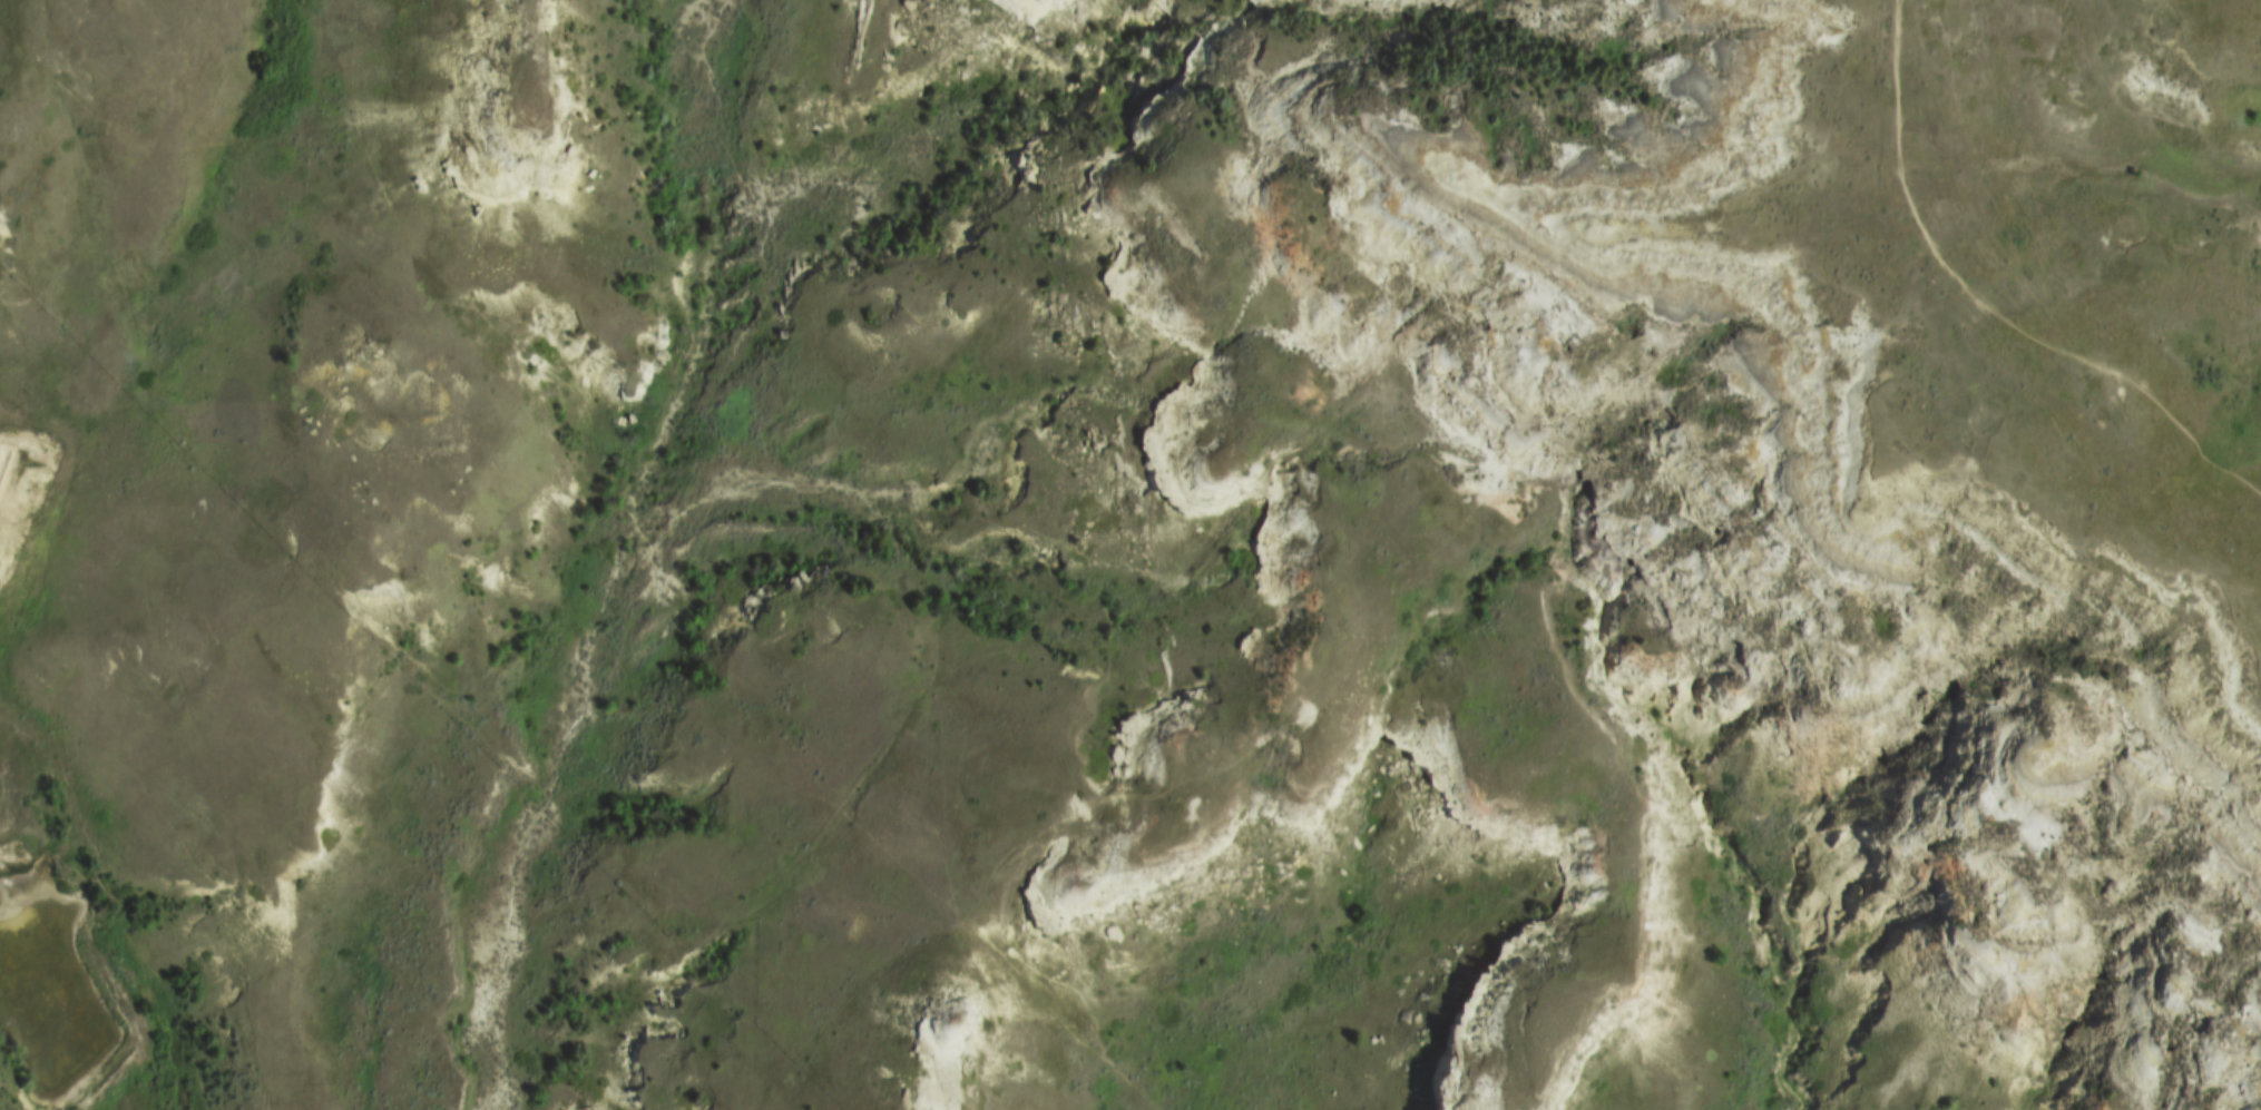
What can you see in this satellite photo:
road: (1988, 297)

